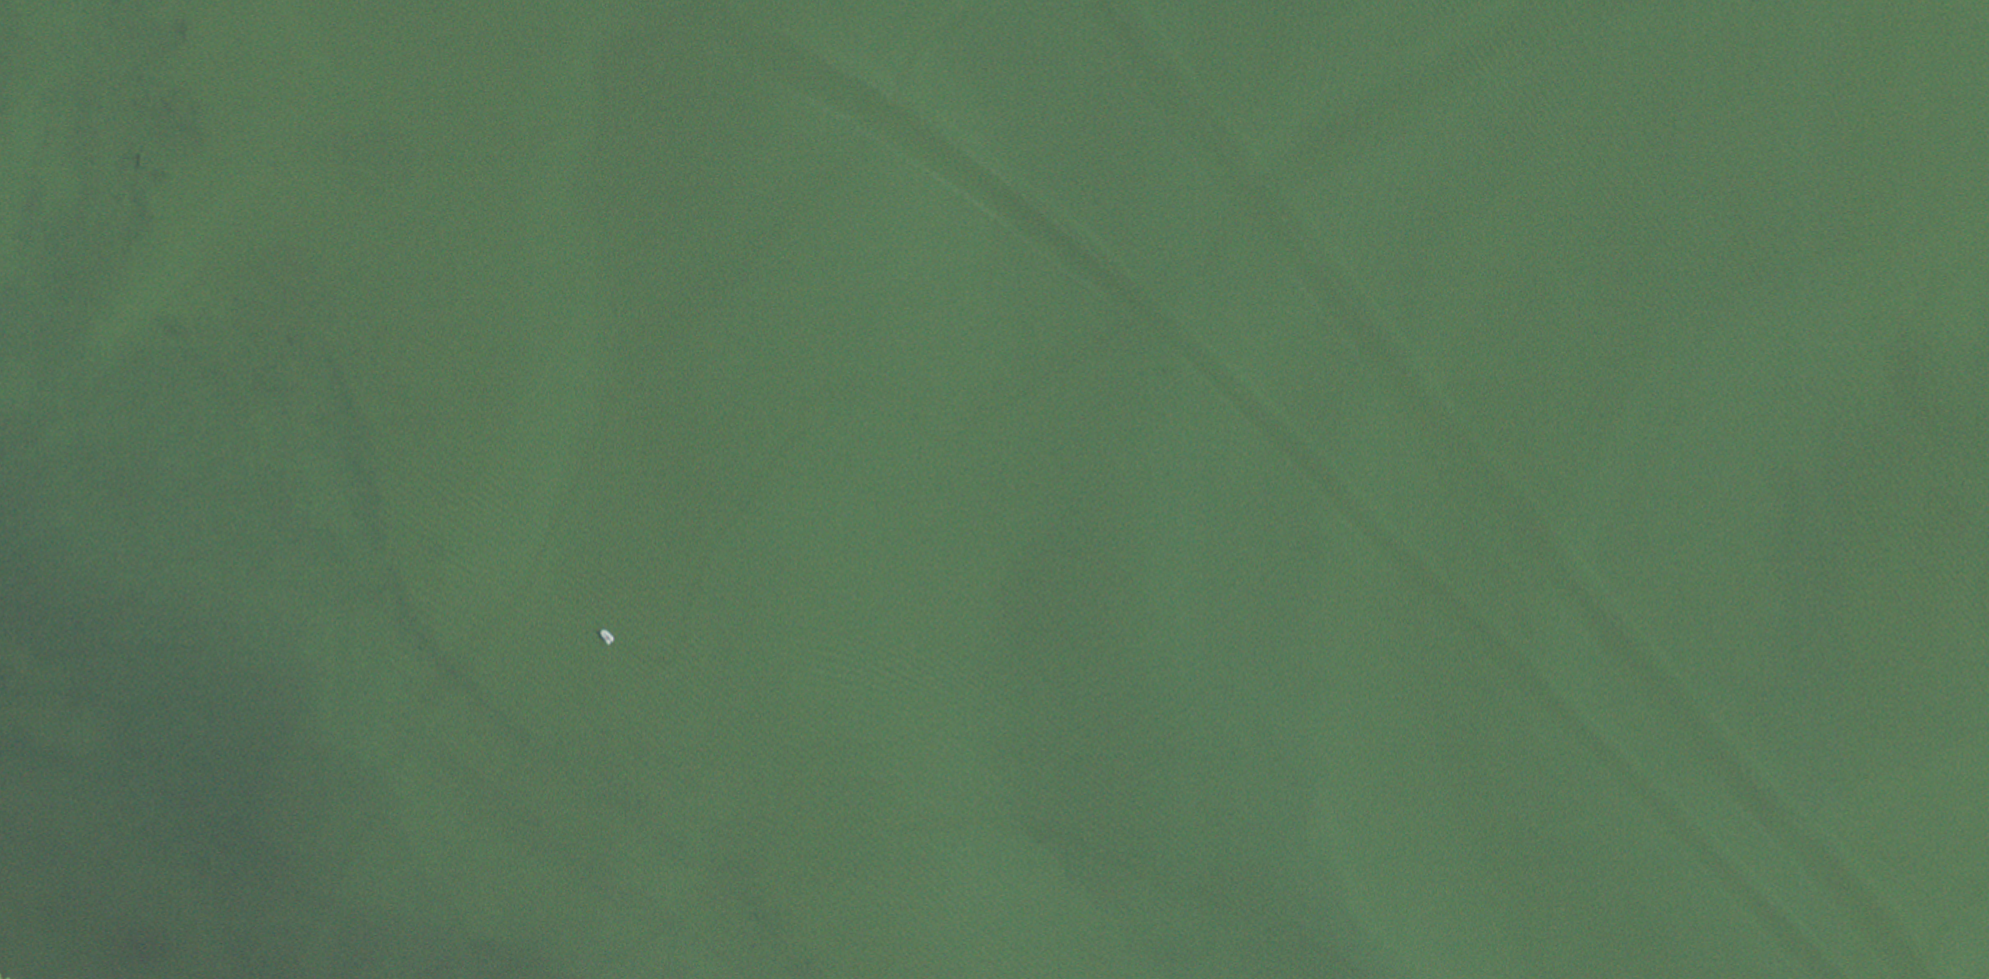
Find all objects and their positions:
river: (1720, 482)

